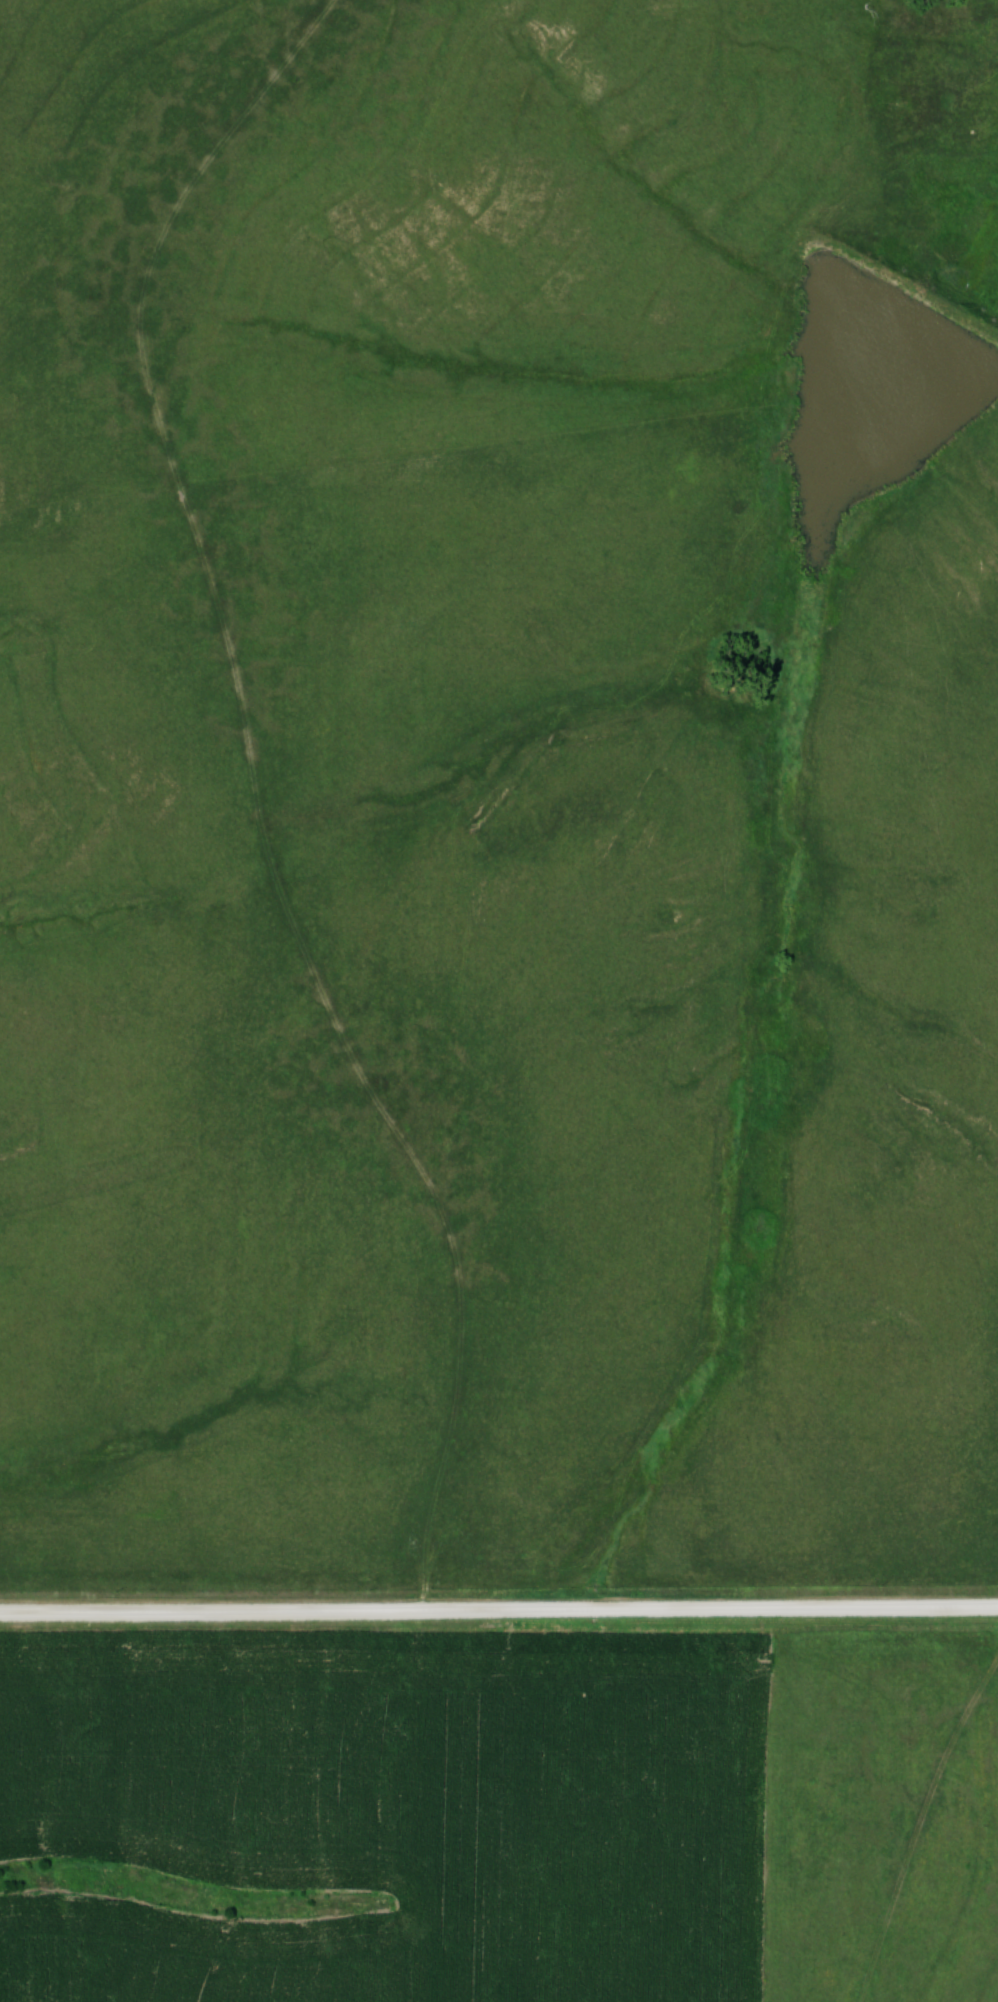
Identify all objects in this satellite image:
road: (499, 1612)

